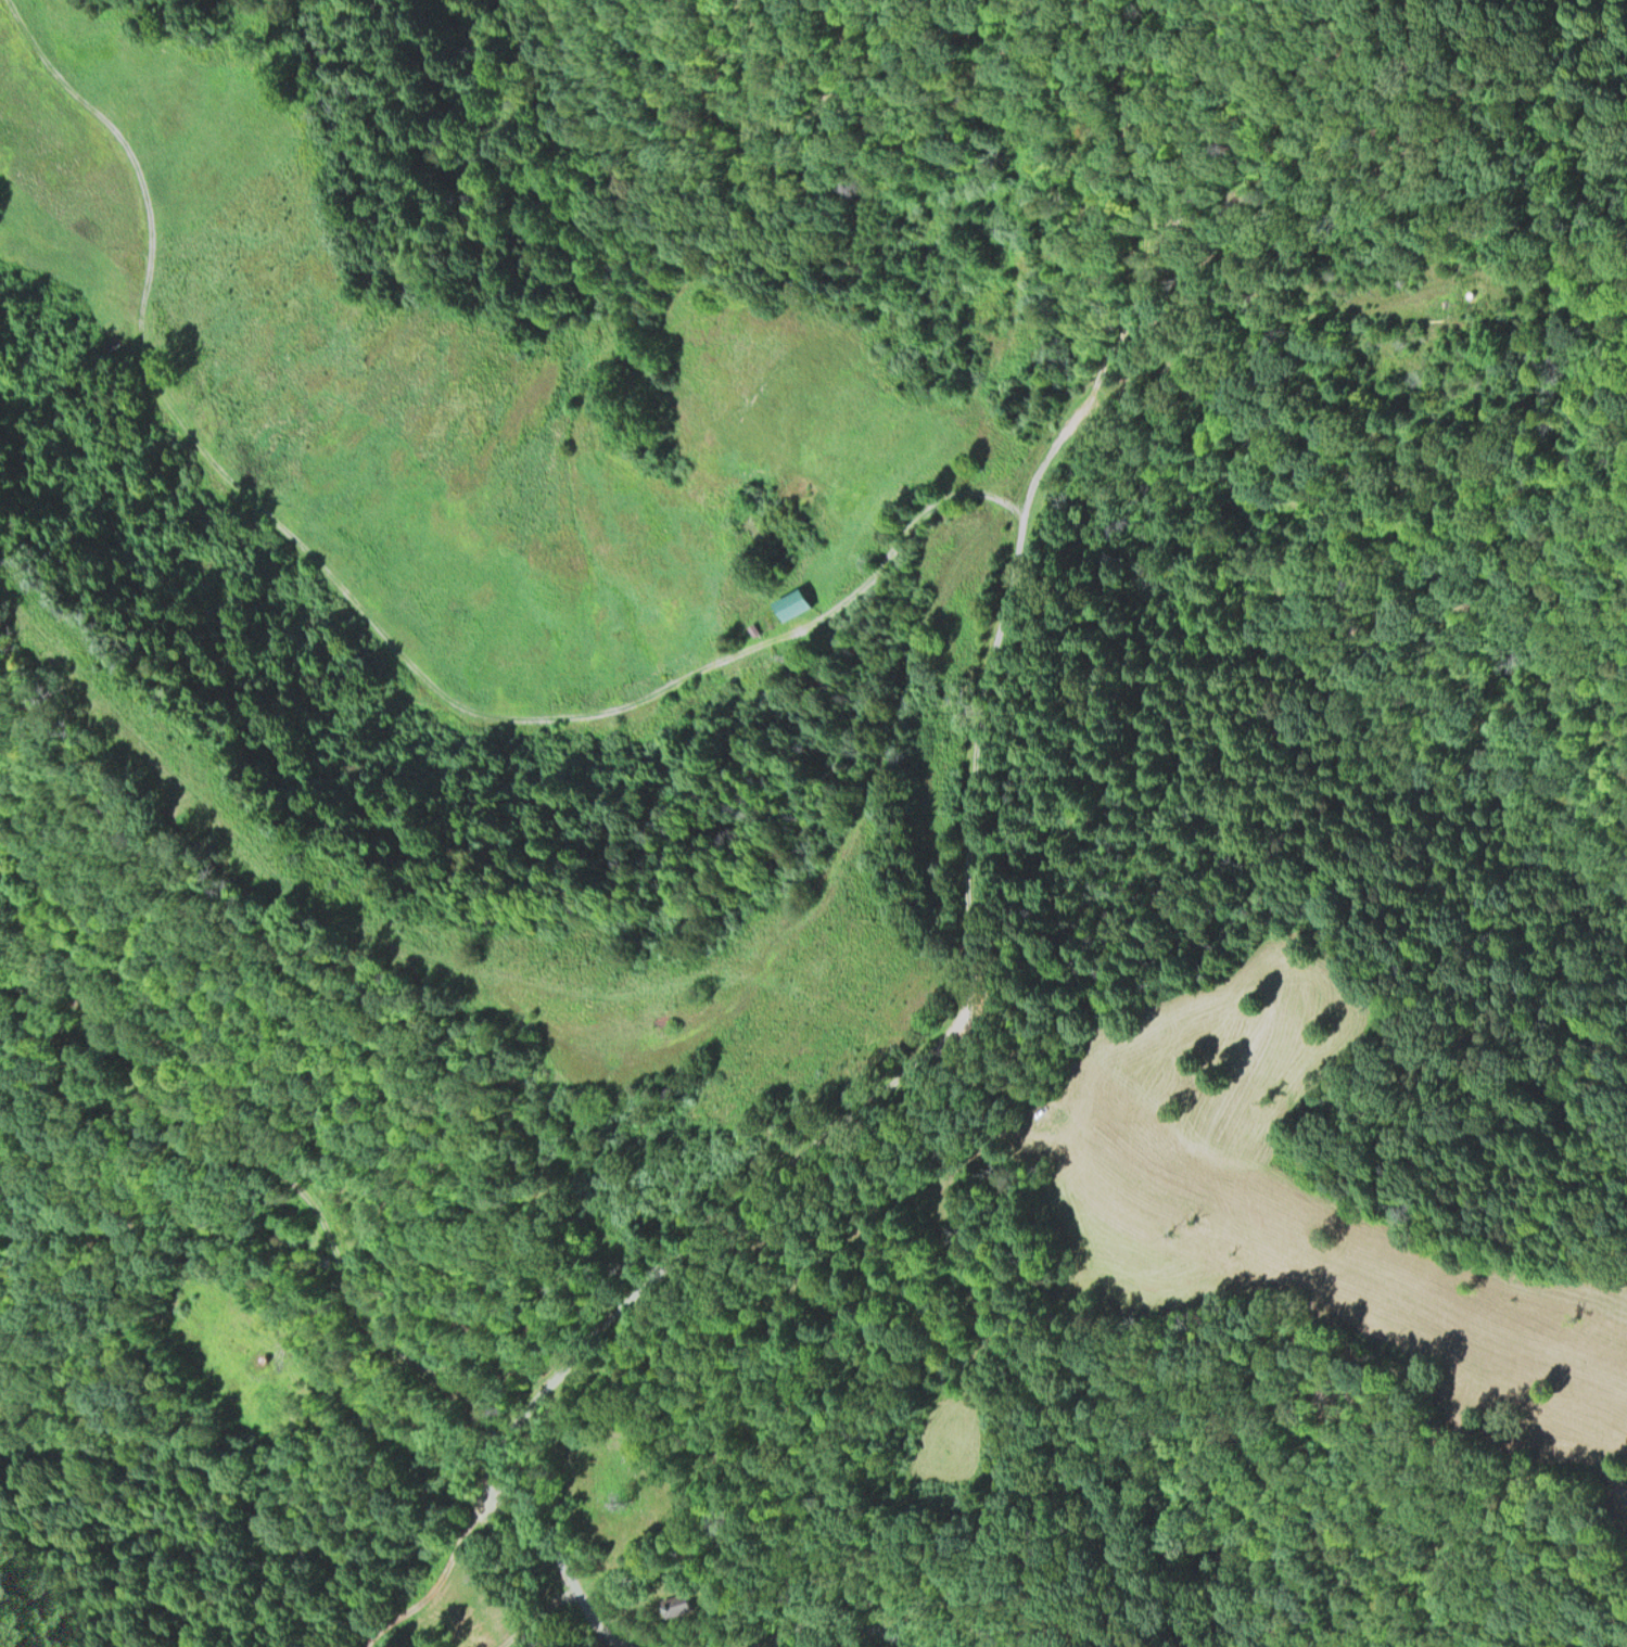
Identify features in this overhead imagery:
road: (1029, 193)
road: (1260, 327)
building: (792, 602)
road: (379, 621)
road: (969, 876)
road: (293, 1178)
road: (798, 1279)
road: (969, 1280)
road: (395, 1441)
park: (610, 1488)
road: (443, 1580)
building: (675, 1604)
road: (586, 1607)
road: (537, 1616)
road: (826, 1621)

